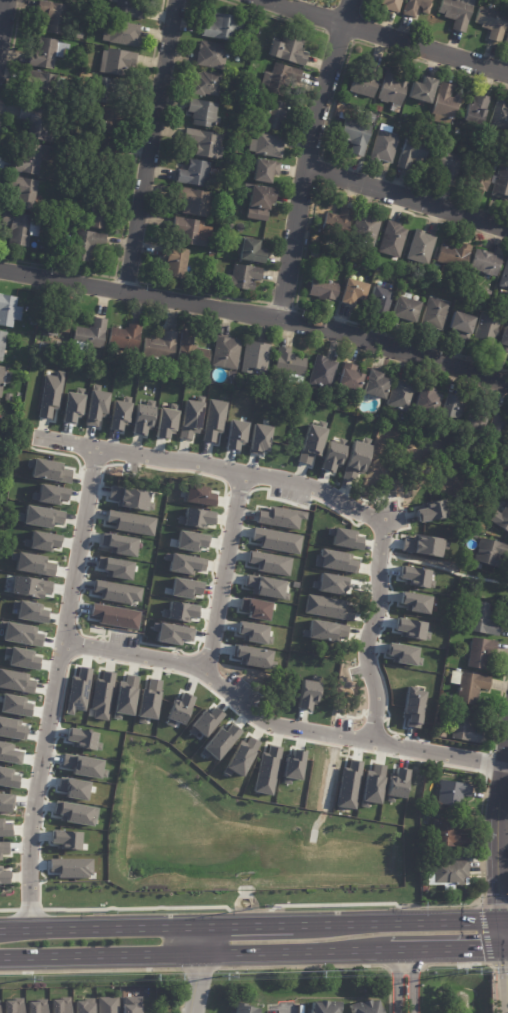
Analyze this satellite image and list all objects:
building: (389, 5)
building: (414, 8)
road: (1, 9)
building: (131, 9)
building: (453, 11)
building: (56, 15)
building: (255, 16)
building: (104, 17)
building: (490, 24)
building: (226, 27)
building: (125, 33)
road: (384, 38)
building: (506, 39)
building: (289, 49)
building: (81, 51)
building: (48, 52)
building: (214, 54)
building: (120, 61)
building: (277, 79)
building: (42, 82)
building: (208, 84)
building: (365, 84)
building: (394, 87)
building: (109, 89)
building: (424, 89)
building: (448, 104)
building: (379, 108)
building: (478, 109)
building: (205, 113)
building: (276, 115)
building: (501, 115)
building: (112, 121)
building: (37, 122)
building: (460, 133)
building: (357, 136)
building: (424, 136)
building: (432, 136)
building: (466, 137)
building: (205, 143)
building: (269, 144)
building: (386, 144)
road: (147, 145)
building: (413, 152)
building: (104, 153)
building: (33, 156)
road: (304, 158)
building: (447, 163)
building: (265, 170)
building: (195, 173)
building: (492, 184)
building: (29, 191)
road: (405, 199)
building: (197, 201)
building: (262, 202)
building: (99, 214)
building: (66, 219)
building: (338, 223)
building: (17, 227)
building: (231, 227)
building: (368, 229)
building: (191, 232)
building: (393, 240)
building: (316, 241)
building: (89, 244)
building: (422, 247)
building: (252, 251)
building: (317, 253)
building: (455, 255)
building: (177, 261)
building: (488, 261)
building: (355, 267)
building: (378, 276)
building: (246, 277)
building: (424, 277)
building: (505, 278)
building: (406, 282)
building: (325, 289)
building: (355, 292)
building: (489, 293)
building: (382, 298)
building: (408, 308)
building: (7, 310)
building: (436, 314)
road: (256, 315)
building: (34, 320)
building: (53, 324)
building: (463, 325)
building: (489, 329)
building: (88, 332)
building: (0, 335)
building: (121, 335)
building: (506, 339)
building: (156, 345)
building: (187, 350)
building: (222, 350)
building: (58, 352)
building: (258, 357)
building: (292, 365)
building: (324, 372)
building: (353, 378)
building: (5, 380)
building: (380, 385)
building: (49, 394)
building: (403, 397)
building: (10, 398)
building: (430, 400)
building: (456, 406)
building: (92, 407)
building: (71, 408)
building: (483, 415)
building: (2, 416)
building: (118, 416)
building: (142, 418)
building: (189, 419)
building: (213, 420)
building: (474, 421)
building: (163, 424)
building: (499, 427)
building: (232, 435)
building: (259, 438)
building: (310, 443)
road: (66, 446)
building: (331, 455)
building: (354, 461)
road: (240, 472)
parking lot: (292, 492)
building: (198, 495)
building: (430, 509)
building: (0, 513)
building: (42, 516)
building: (280, 517)
building: (196, 518)
building: (502, 520)
building: (128, 522)
building: (344, 539)
building: (189, 541)
building: (274, 542)
building: (119, 544)
building: (419, 545)
building: (491, 553)
building: (334, 561)
building: (269, 563)
building: (185, 564)
road: (224, 571)
building: (265, 585)
building: (184, 588)
building: (117, 592)
building: (414, 602)
building: (326, 606)
building: (250, 608)
building: (30, 611)
building: (468, 611)
building: (114, 616)
building: (486, 620)
road: (369, 630)
building: (323, 631)
building: (252, 632)
parking lot: (123, 642)
building: (481, 653)
building: (403, 654)
road: (220, 683)
road: (52, 687)
building: (470, 687)
parking lot: (242, 690)
building: (306, 695)
building: (101, 696)
building: (147, 696)
building: (452, 700)
building: (412, 704)
building: (466, 726)
building: (443, 732)
road: (439, 752)
building: (241, 755)
building: (292, 765)
building: (264, 770)
building: (432, 778)
building: (454, 793)
road: (494, 830)
building: (450, 836)
building: (3, 848)
building: (452, 874)
building: (3, 877)
building: (426, 890)
power tower: (263, 903)
road: (502, 916)
traffic signals: (497, 917)
road: (392, 920)
road: (250, 922)
road: (105, 925)
road: (498, 931)
road: (210, 938)
road: (503, 944)
traffic signals: (499, 945)
road: (445, 948)
road: (195, 953)
power tower: (474, 970)
power tower: (221, 974)
power tower: (26, 979)
road: (503, 979)
road: (411, 981)
road: (201, 983)
park: (194, 996)
road: (180, 998)
building: (12, 1005)
building: (59, 1005)
building: (107, 1005)
building: (130, 1005)
building: (35, 1006)
building: (82, 1007)
building: (324, 1007)
building: (365, 1007)
building: (242, 1009)

